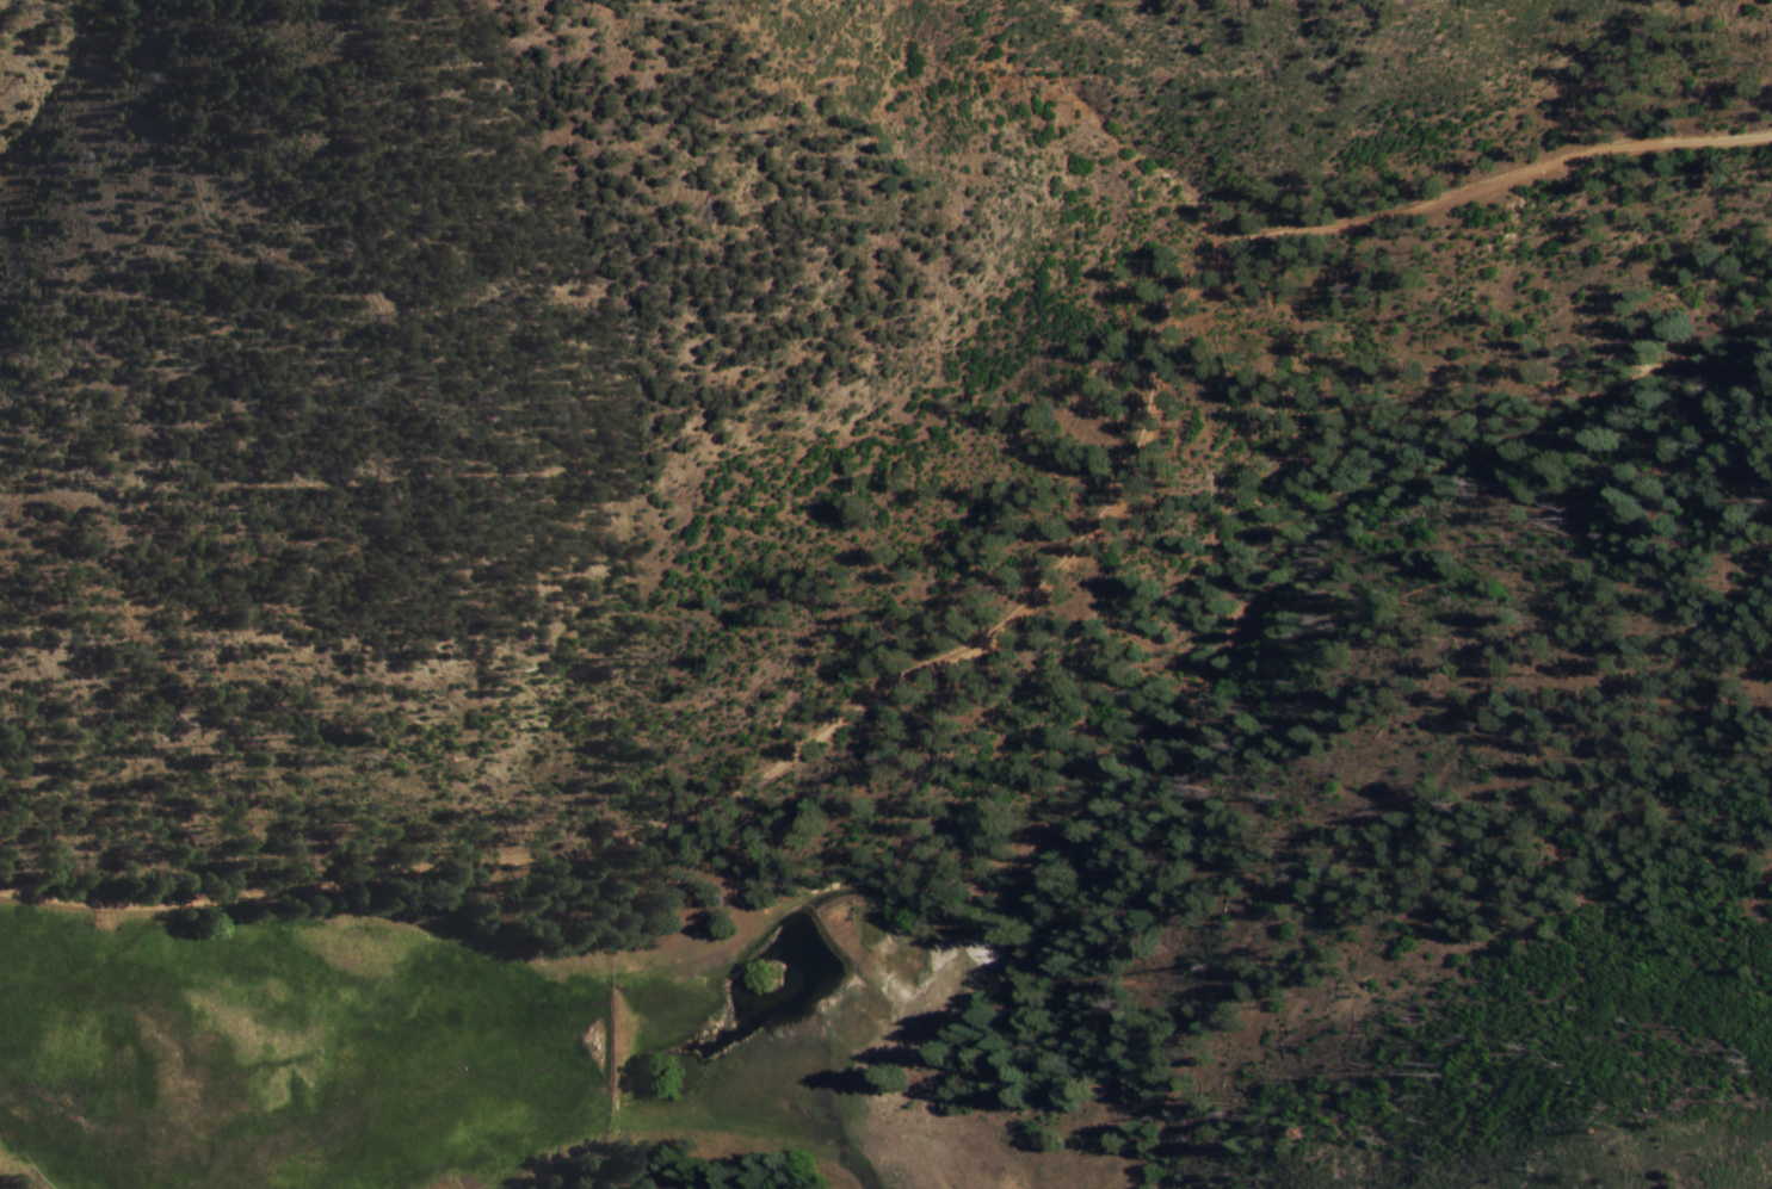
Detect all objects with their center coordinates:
road: (977, 637)

